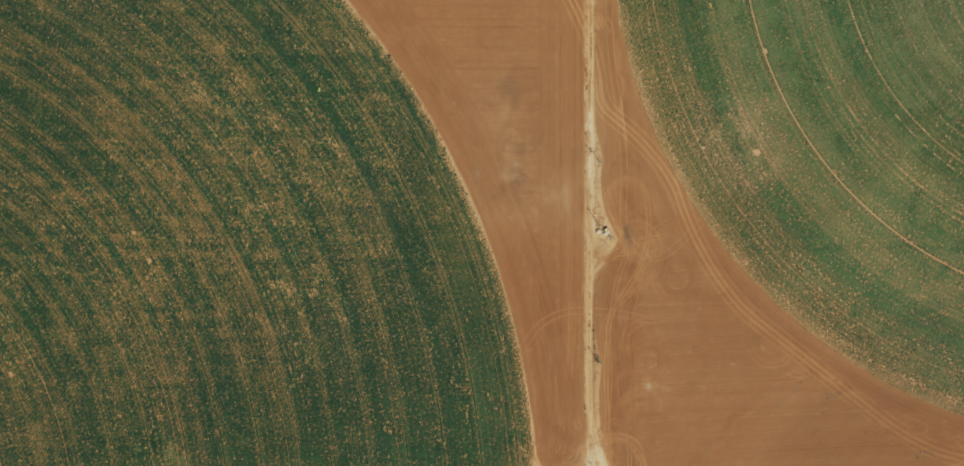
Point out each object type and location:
road: (594, 233)

